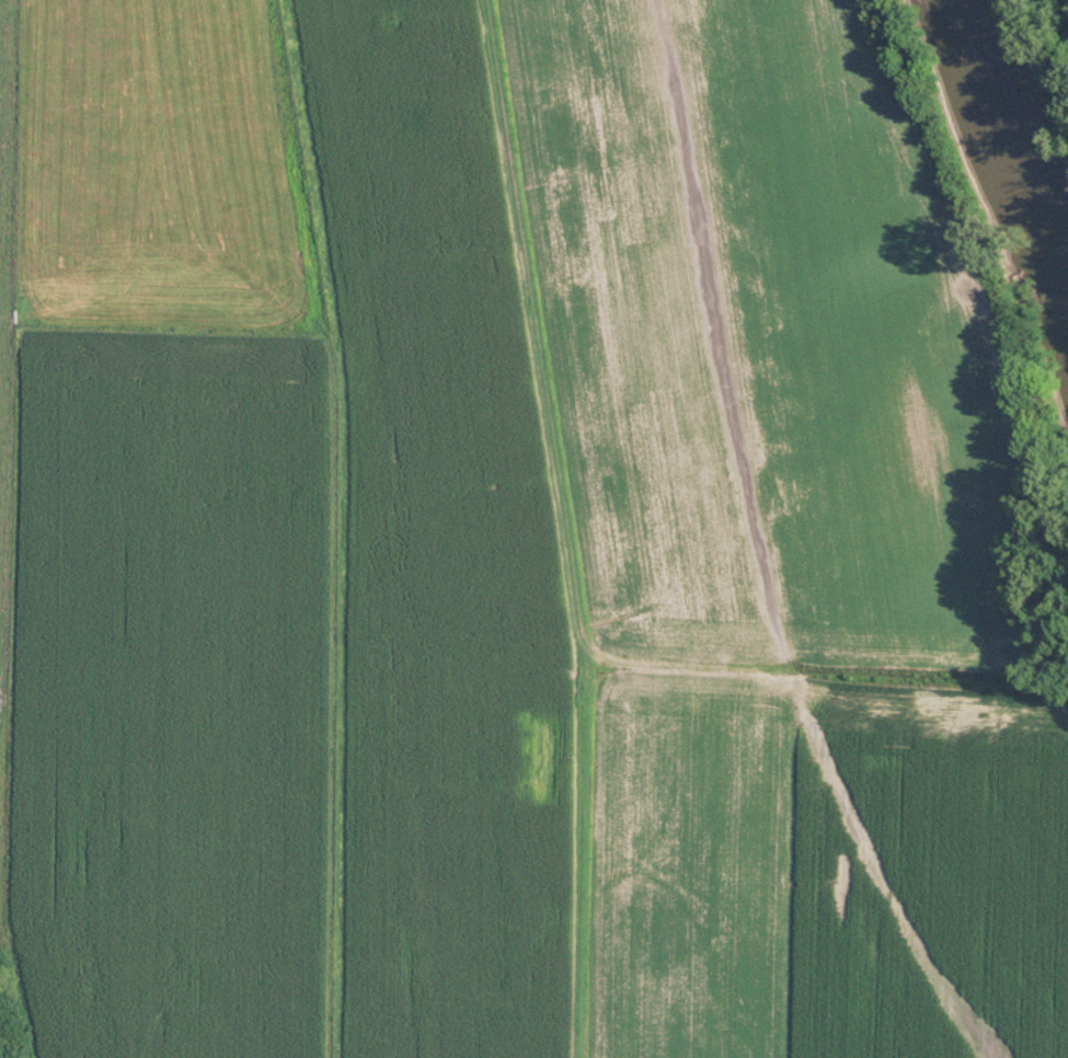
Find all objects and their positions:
river: (1026, 139)

